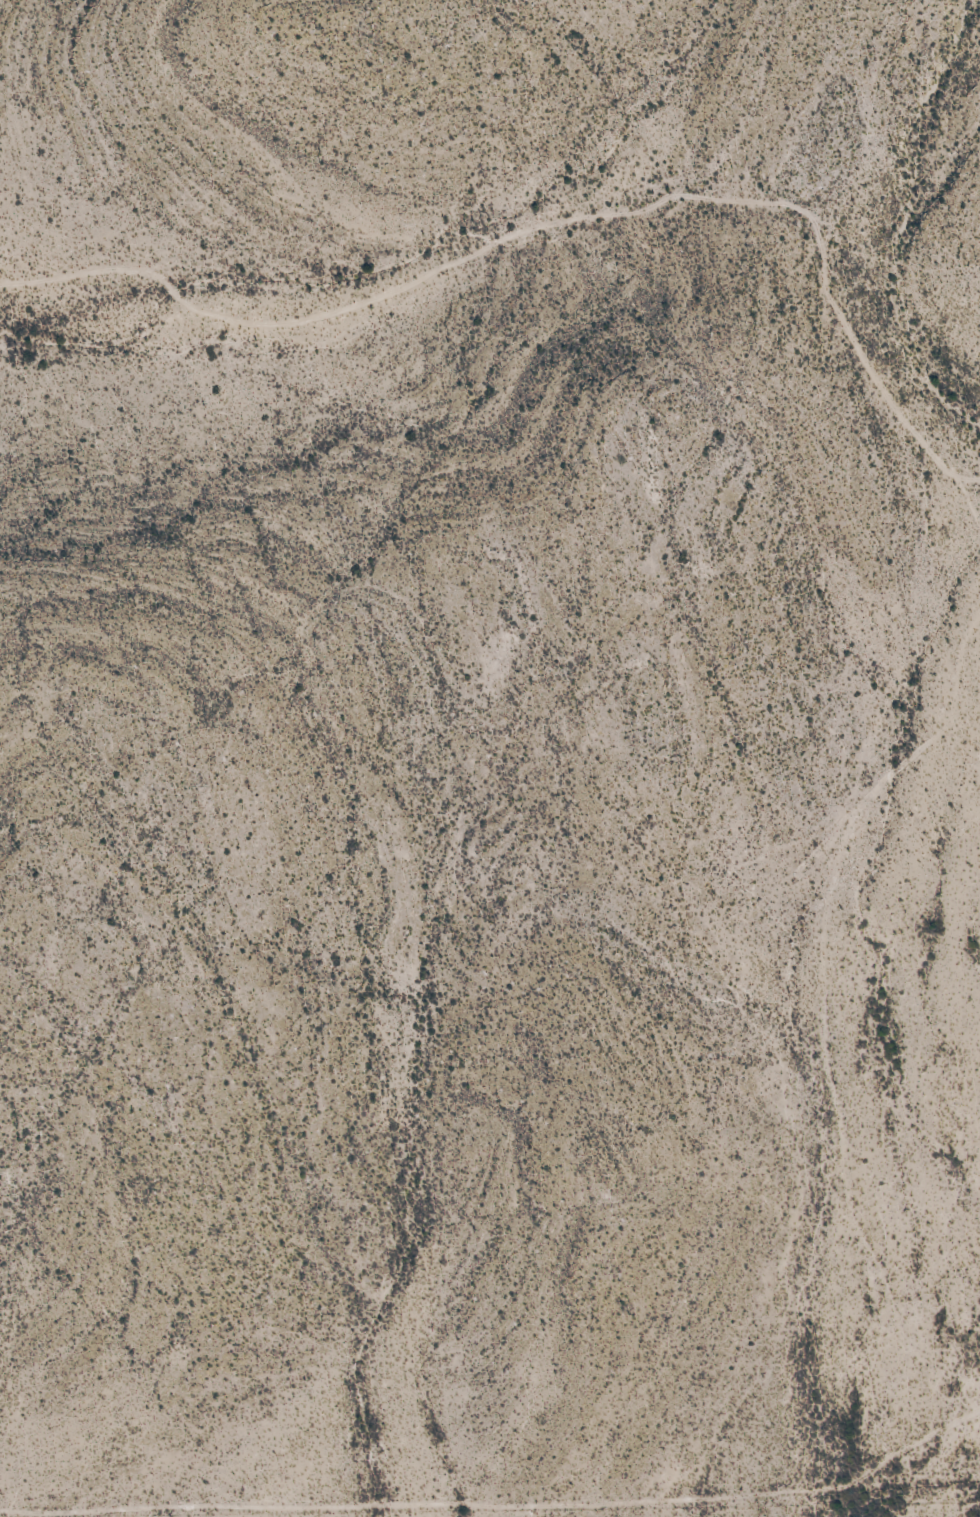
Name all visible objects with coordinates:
road: (490, 1496)

